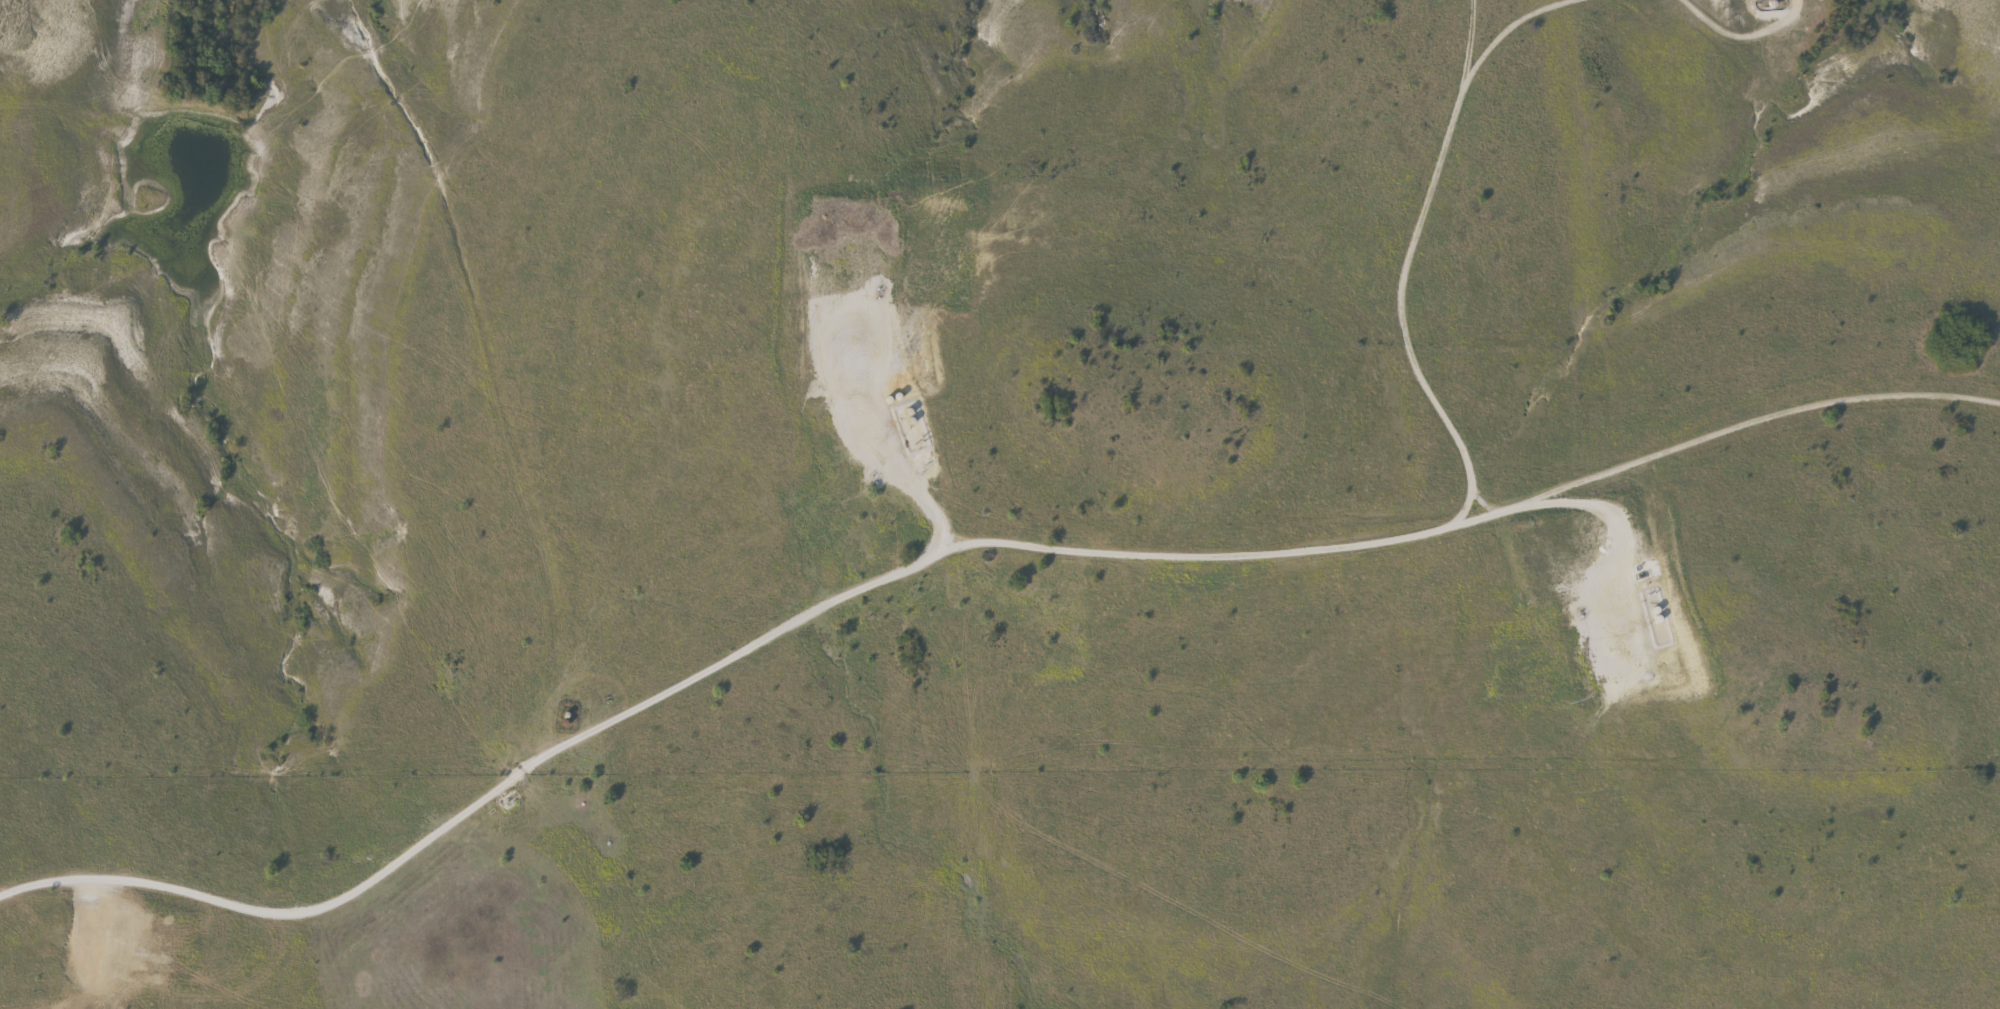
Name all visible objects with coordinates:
building: (1759, 6)
road: (1735, 38)
road: (983, 544)

